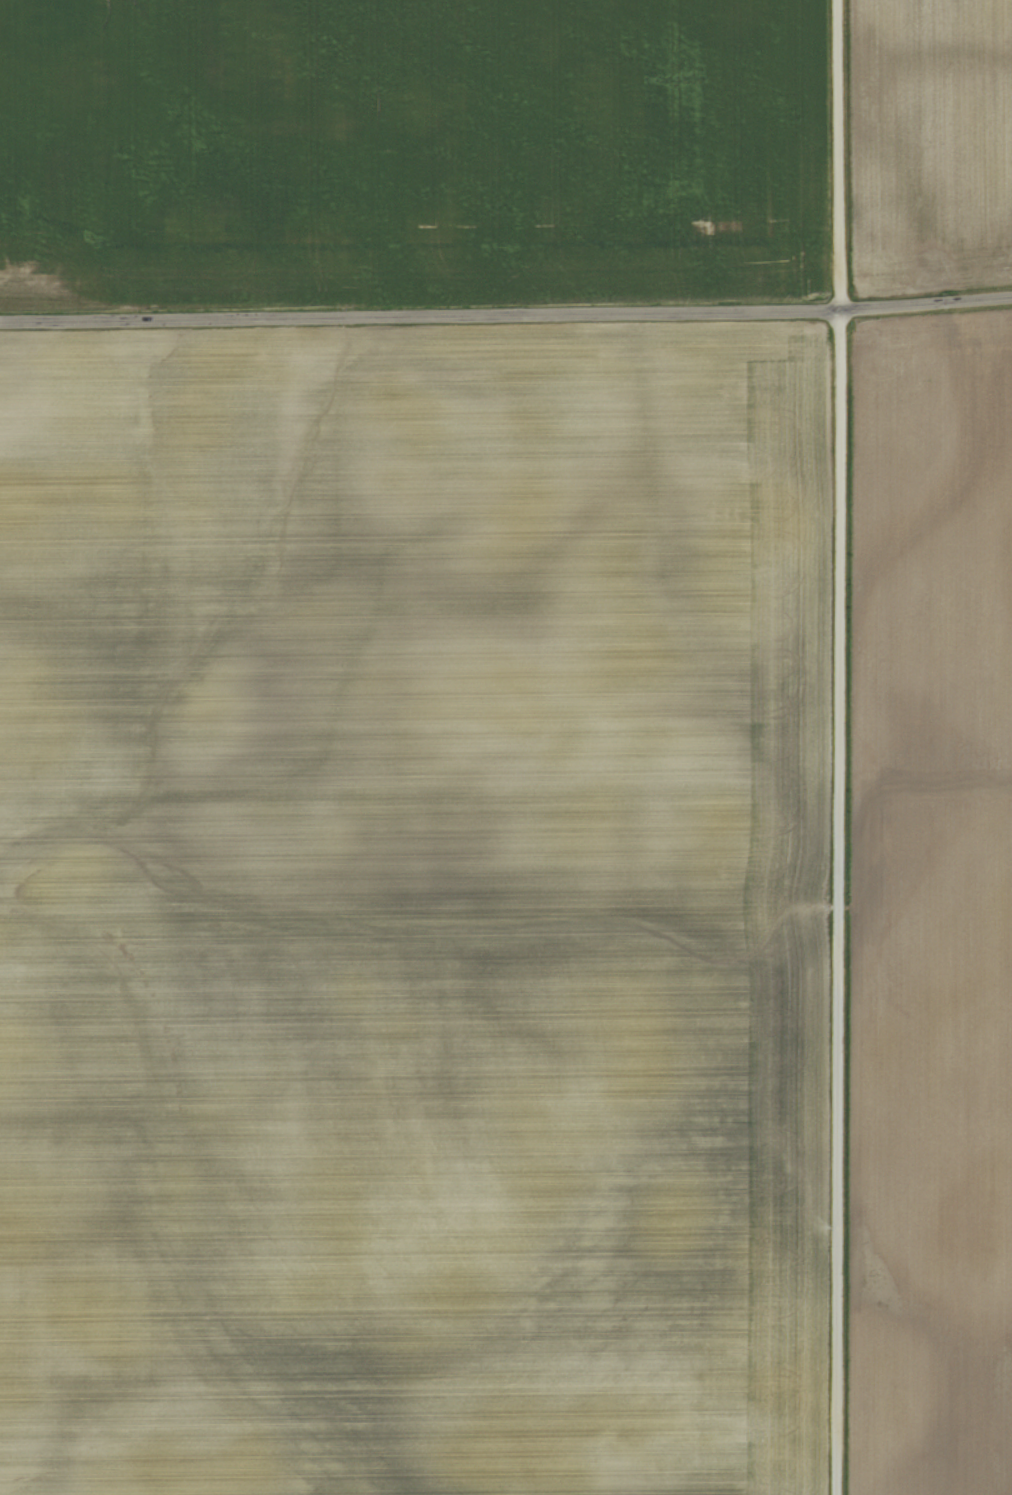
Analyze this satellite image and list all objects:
road: (506, 312)
road: (830, 747)

